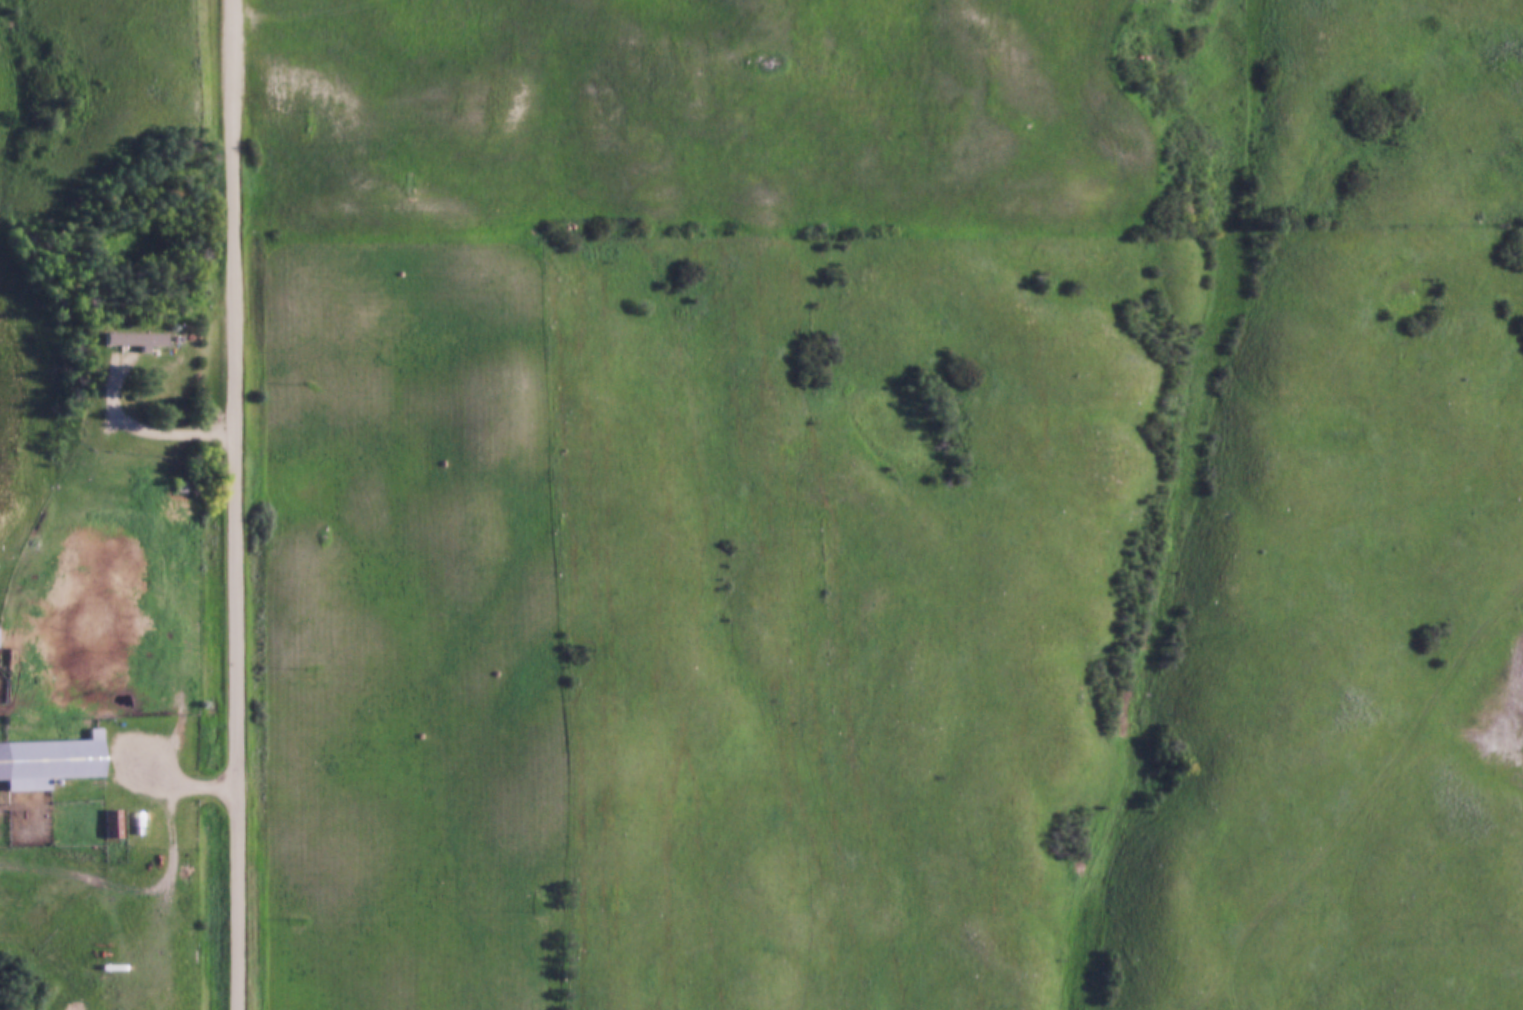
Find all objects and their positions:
building: (131, 338)
road: (133, 412)
building: (182, 485)
road: (236, 504)
building: (53, 758)
road: (118, 766)
building: (114, 822)

